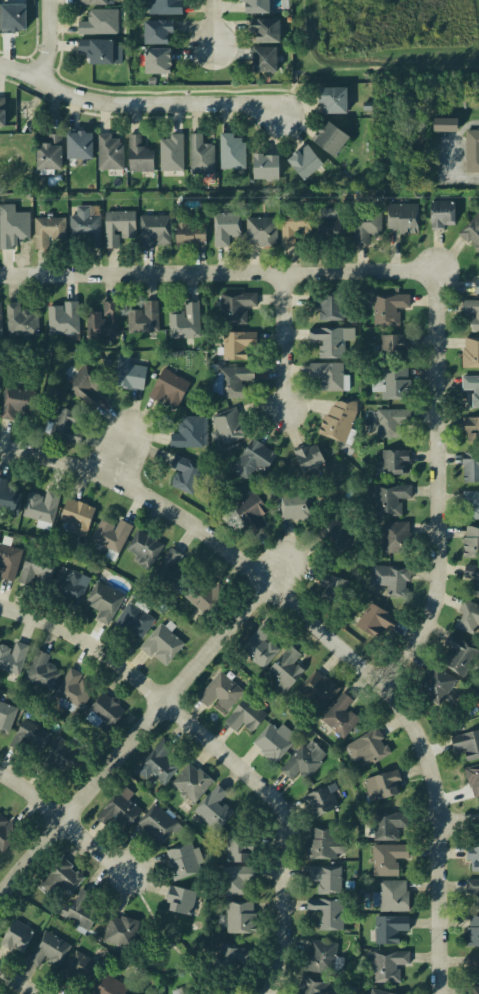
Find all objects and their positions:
building: (94, 1)
building: (254, 5)
building: (162, 6)
building: (11, 16)
building: (98, 22)
building: (154, 30)
building: (263, 30)
road: (217, 31)
road: (39, 39)
building: (94, 49)
building: (262, 58)
building: (154, 59)
building: (331, 99)
road: (137, 105)
building: (367, 105)
building: (1, 111)
building: (444, 124)
building: (327, 137)
building: (76, 143)
building: (471, 150)
building: (231, 151)
building: (47, 152)
building: (108, 152)
building: (171, 152)
building: (138, 154)
building: (200, 155)
building: (302, 161)
building: (263, 165)
building: (441, 213)
building: (402, 217)
building: (85, 225)
building: (365, 225)
building: (118, 226)
building: (294, 226)
building: (327, 226)
building: (13, 227)
building: (224, 227)
building: (189, 229)
building: (47, 230)
building: (154, 230)
building: (261, 230)
building: (471, 231)
road: (218, 273)
building: (476, 286)
building: (329, 305)
building: (234, 306)
building: (388, 307)
building: (471, 311)
building: (62, 318)
building: (142, 318)
building: (20, 319)
building: (184, 320)
building: (102, 321)
building: (0, 330)
building: (328, 340)
road: (286, 341)
building: (236, 343)
building: (470, 352)
building: (394, 368)
building: (129, 372)
building: (329, 376)
building: (233, 379)
building: (84, 385)
building: (168, 387)
building: (471, 388)
building: (53, 394)
building: (13, 402)
building: (337, 420)
building: (391, 421)
building: (227, 425)
building: (65, 426)
building: (470, 427)
building: (189, 432)
road: (132, 441)
building: (253, 458)
building: (309, 458)
building: (393, 461)
building: (470, 466)
building: (184, 473)
road: (439, 483)
building: (8, 498)
building: (390, 498)
building: (471, 500)
building: (294, 502)
building: (40, 505)
building: (249, 509)
building: (76, 515)
building: (111, 534)
building: (334, 537)
building: (393, 537)
building: (471, 540)
building: (143, 549)
building: (8, 560)
building: (34, 567)
building: (171, 571)
building: (472, 576)
building: (389, 578)
road: (269, 581)
building: (69, 585)
building: (332, 586)
building: (199, 598)
building: (103, 601)
building: (467, 616)
building: (132, 619)
building: (375, 619)
building: (160, 643)
building: (260, 646)
building: (460, 655)
building: (12, 656)
building: (286, 669)
building: (40, 671)
building: (435, 684)
building: (317, 689)
building: (71, 690)
building: (220, 691)
building: (476, 702)
building: (106, 712)
building: (339, 714)
building: (244, 715)
building: (6, 716)
road: (148, 720)
building: (28, 736)
building: (272, 742)
building: (466, 744)
building: (367, 747)
road: (224, 751)
building: (58, 755)
building: (156, 762)
building: (302, 762)
building: (472, 778)
building: (191, 781)
building: (382, 784)
building: (320, 799)
building: (212, 808)
building: (117, 809)
road: (462, 819)
road: (63, 822)
building: (155, 822)
building: (388, 823)
building: (6, 830)
building: (325, 841)
building: (236, 846)
building: (472, 855)
building: (386, 858)
building: (183, 859)
building: (58, 877)
building: (235, 877)
building: (324, 877)
building: (472, 885)
building: (392, 895)
building: (179, 897)
building: (477, 903)
road: (448, 906)
building: (77, 910)
building: (325, 911)
building: (238, 915)
building: (388, 926)
building: (122, 930)
building: (472, 930)
building: (15, 935)
building: (48, 948)
building: (230, 953)
building: (316, 955)
building: (472, 959)
building: (386, 964)
building: (78, 966)
road: (21, 981)
building: (106, 985)
building: (312, 985)
building: (474, 989)
building: (182, 990)
building: (376, 992)
building: (136, 993)

